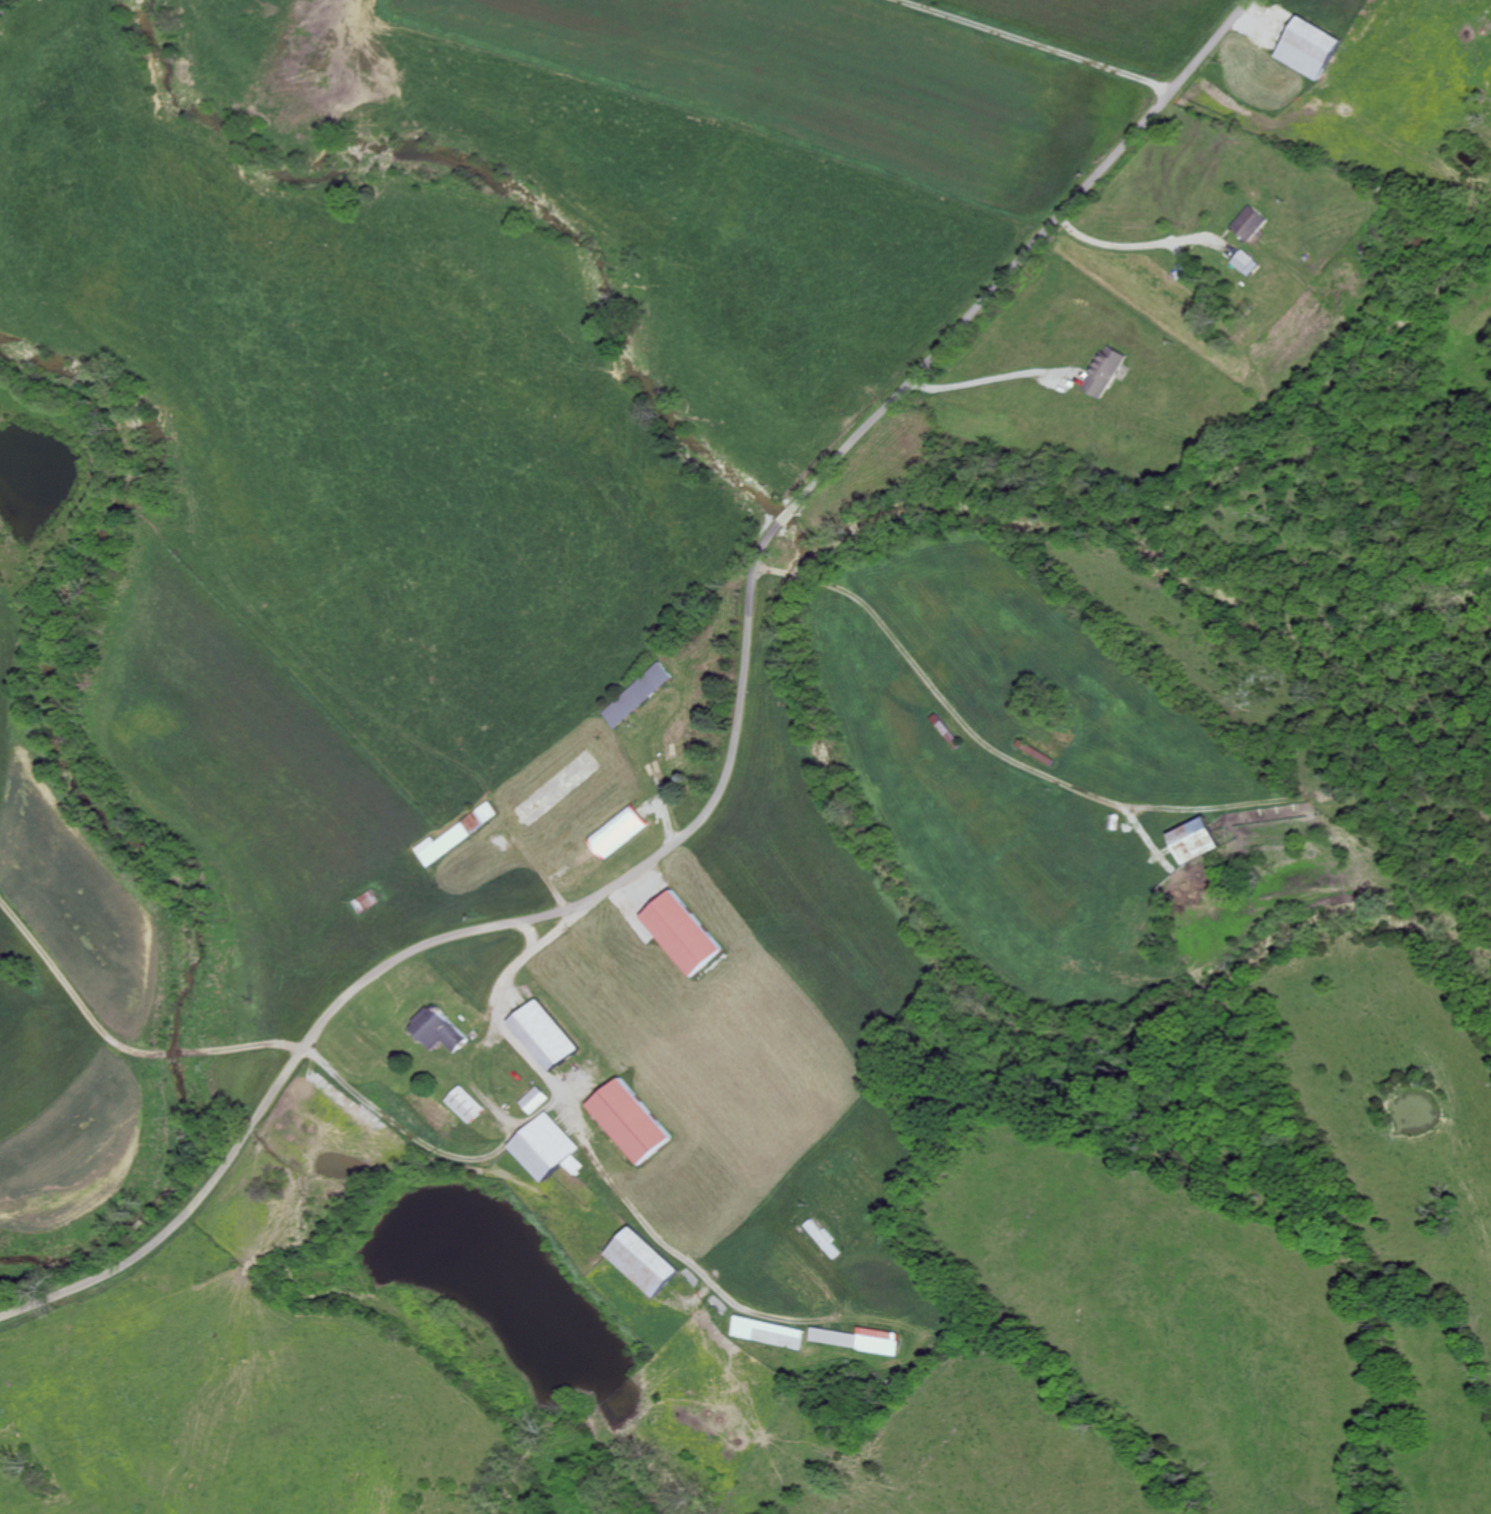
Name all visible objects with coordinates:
road: (1032, 44)
building: (1313, 50)
building: (1251, 223)
road: (1134, 246)
building: (1246, 263)
building: (1105, 371)
road: (1003, 753)
road: (736, 769)
building: (561, 787)
building: (623, 830)
building: (1203, 841)
building: (688, 934)
road: (552, 937)
building: (442, 1031)
building: (549, 1036)
road: (238, 1048)
building: (536, 1100)
building: (470, 1105)
building: (632, 1122)
building: (550, 1149)
road: (596, 1158)
building: (647, 1263)
building: (770, 1333)
building: (862, 1340)

